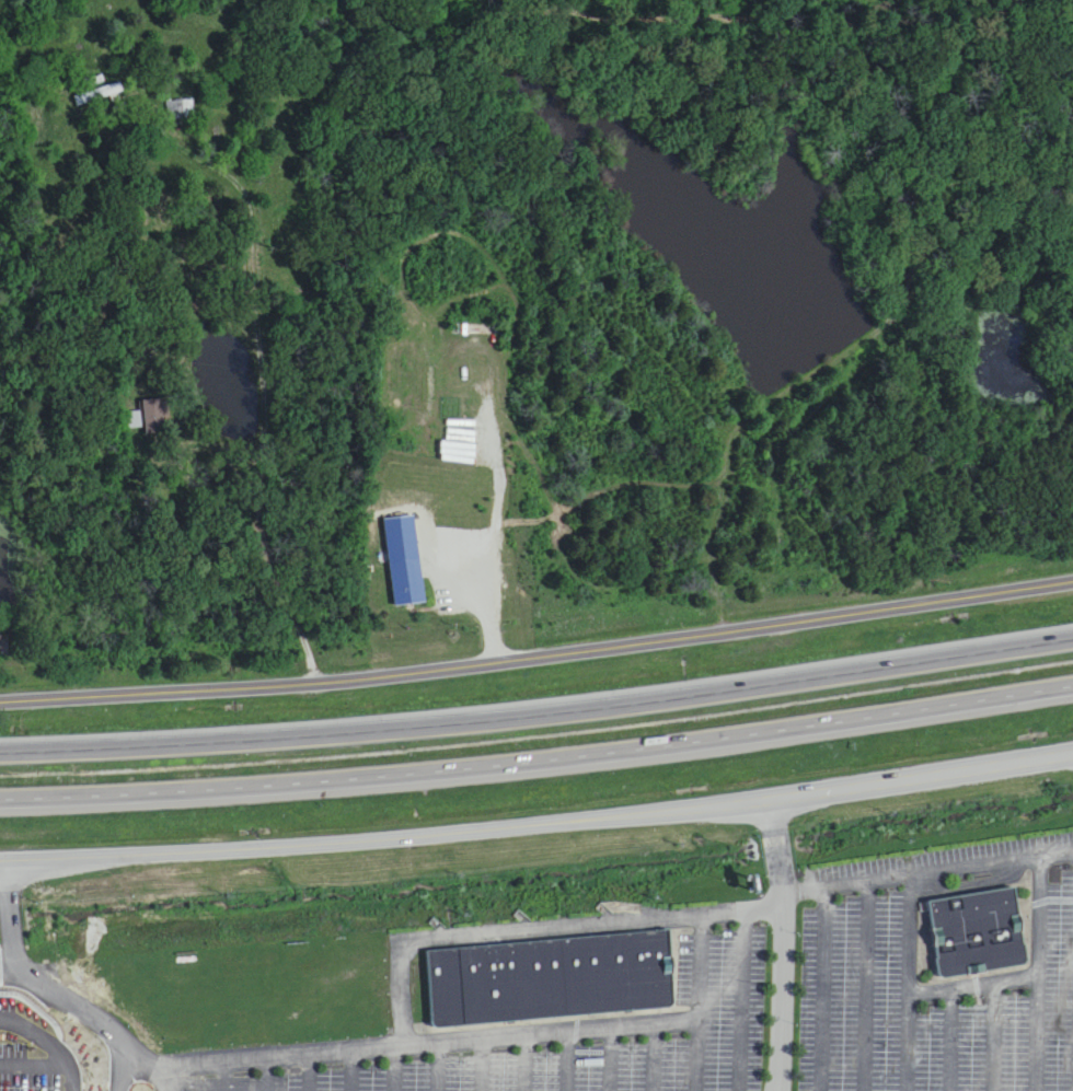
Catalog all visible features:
building: (99, 95)
building: (181, 111)
road: (254, 348)
building: (154, 417)
road: (492, 561)
building: (406, 583)
road: (538, 641)
building: (2, 647)
road: (538, 713)
road: (536, 757)
road: (539, 824)
road: (926, 869)
building: (973, 935)
road: (15, 965)
road: (1032, 971)
building: (550, 978)
road: (911, 980)
road: (778, 997)
road: (1038, 1030)
road: (438, 1041)
road: (47, 1044)
road: (690, 1054)
road: (481, 1064)
road: (122, 1066)
road: (312, 1070)
road: (268, 1072)
road: (169, 1076)

